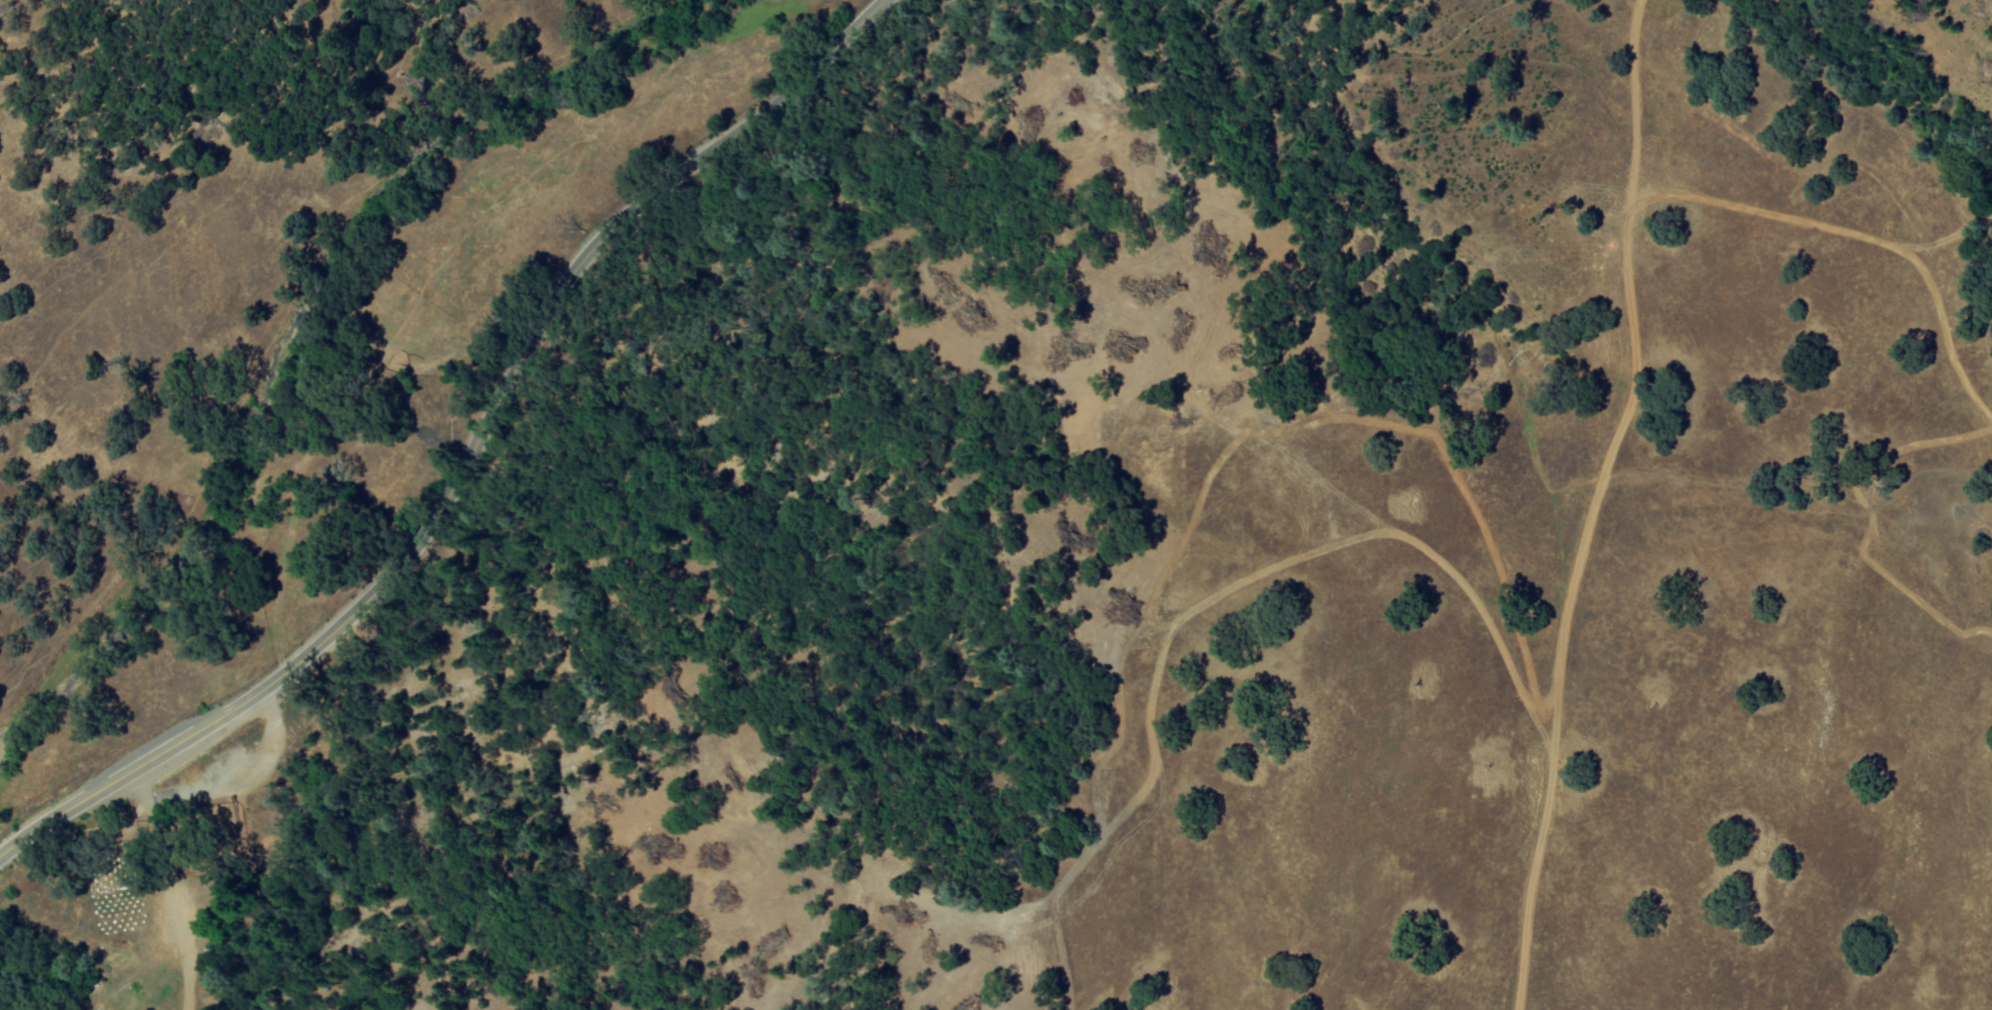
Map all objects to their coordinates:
road: (466, 459)
road: (171, 888)

